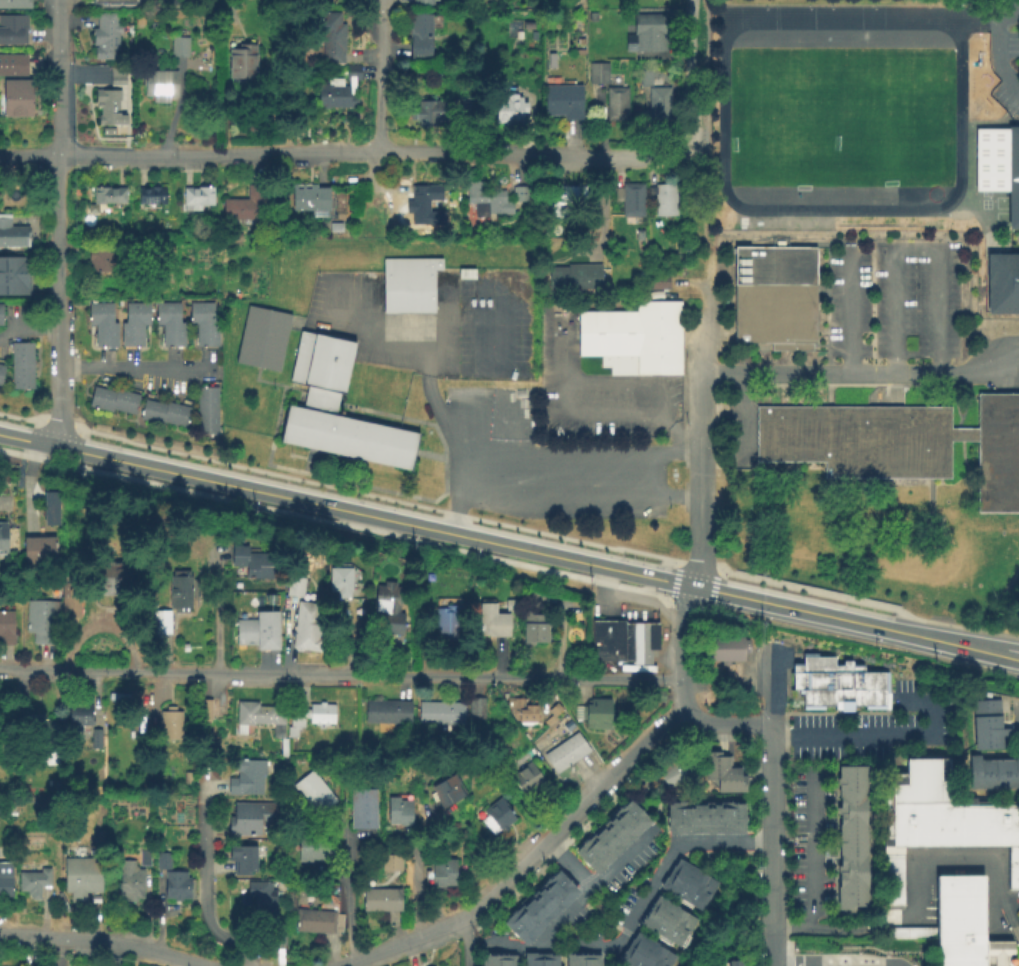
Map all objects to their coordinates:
building: (114, 1)
building: (422, 2)
road: (718, 3)
building: (15, 4)
road: (993, 15)
building: (13, 30)
building: (648, 34)
building: (106, 36)
building: (420, 37)
building: (332, 38)
road: (998, 44)
building: (179, 48)
building: (242, 63)
building: (13, 65)
road: (690, 71)
building: (459, 74)
building: (597, 74)
building: (117, 77)
road: (380, 77)
building: (644, 79)
building: (160, 86)
road: (707, 86)
track: (723, 87)
building: (339, 91)
building: (17, 99)
building: (563, 102)
building: (467, 104)
building: (658, 104)
building: (616, 105)
building: (109, 109)
building: (509, 110)
building: (424, 115)
park: (842, 117)
building: (108, 133)
road: (302, 155)
road: (646, 156)
building: (999, 167)
park: (985, 190)
park: (933, 192)
road: (380, 195)
building: (523, 195)
building: (108, 197)
building: (152, 197)
building: (198, 199)
building: (423, 199)
building: (567, 199)
building: (310, 200)
building: (631, 201)
building: (665, 201)
park: (1001, 201)
building: (487, 203)
park: (985, 203)
building: (245, 206)
road: (699, 208)
road: (601, 210)
park: (1001, 217)
road: (58, 224)
building: (335, 230)
building: (12, 234)
building: (639, 237)
road: (913, 249)
building: (103, 261)
building: (14, 277)
building: (574, 279)
building: (660, 283)
building: (1001, 285)
building: (409, 286)
parking lot: (893, 297)
building: (776, 298)
road: (846, 311)
building: (0, 316)
building: (170, 326)
building: (203, 326)
building: (102, 327)
building: (134, 327)
building: (631, 338)
building: (263, 340)
building: (21, 368)
road: (136, 369)
building: (1, 374)
road: (863, 374)
road: (653, 385)
parking lot: (598, 390)
building: (320, 400)
building: (113, 402)
building: (206, 413)
road: (564, 413)
building: (165, 415)
road: (701, 433)
building: (898, 444)
road: (454, 453)
road: (578, 454)
road: (29, 478)
road: (578, 504)
road: (3, 505)
building: (50, 507)
road: (346, 511)
building: (3, 539)
street lamp: (411, 544)
building: (39, 551)
street lamp: (474, 558)
building: (254, 561)
building: (109, 576)
building: (339, 580)
building: (295, 584)
building: (179, 588)
building: (70, 596)
building: (510, 602)
building: (387, 607)
road: (818, 614)
building: (42, 619)
building: (491, 620)
building: (164, 621)
road: (217, 623)
building: (446, 623)
building: (6, 625)
building: (309, 625)
road: (767, 625)
building: (535, 626)
building: (257, 629)
building: (624, 639)
road: (981, 643)
road: (683, 647)
building: (714, 650)
building: (735, 650)
road: (981, 651)
road: (340, 675)
road: (753, 676)
building: (837, 683)
road: (772, 685)
road: (579, 689)
building: (659, 694)
building: (206, 707)
building: (520, 707)
building: (387, 710)
building: (5, 711)
building: (452, 711)
building: (594, 711)
parking lot: (1014, 712)
building: (74, 714)
building: (309, 715)
building: (260, 718)
building: (170, 723)
road: (726, 724)
road: (1018, 725)
building: (989, 727)
building: (34, 728)
road: (884, 736)
road: (648, 744)
building: (690, 747)
building: (565, 750)
building: (713, 763)
building: (675, 772)
building: (246, 775)
building: (993, 775)
building: (525, 777)
building: (190, 778)
building: (731, 779)
building: (447, 789)
building: (313, 791)
building: (362, 806)
building: (398, 810)
building: (632, 813)
building: (496, 814)
building: (252, 815)
building: (675, 816)
building: (690, 816)
building: (706, 816)
building: (722, 816)
building: (737, 816)
building: (939, 823)
building: (621, 824)
building: (462, 832)
building: (610, 835)
road: (353, 837)
road: (405, 839)
building: (851, 840)
building: (599, 845)
road: (772, 845)
building: (314, 849)
parking lot: (812, 850)
road: (538, 851)
road: (809, 854)
building: (144, 856)
building: (587, 856)
building: (240, 857)
building: (163, 858)
building: (390, 861)
road: (567, 865)
road: (941, 865)
building: (442, 872)
road: (657, 872)
road: (328, 873)
building: (694, 874)
building: (81, 875)
road: (415, 875)
building: (5, 877)
building: (129, 879)
road: (206, 879)
building: (33, 880)
building: (560, 882)
building: (175, 883)
building: (688, 883)
road: (347, 885)
building: (549, 893)
building: (683, 893)
building: (261, 895)
building: (381, 898)
building: (539, 903)
road: (573, 908)
building: (672, 910)
building: (528, 915)
road: (601, 916)
building: (313, 919)
building: (667, 920)
building: (518, 925)
building: (959, 927)
road: (1016, 928)
building: (661, 930)
road: (826, 933)
building: (277, 934)
road: (106, 941)
road: (403, 945)
road: (466, 945)
building: (651, 946)
road: (112, 954)
building: (643, 954)
building: (582, 958)
building: (485, 959)
building: (496, 959)
building: (507, 959)
building: (528, 959)
building: (540, 959)
building: (551, 959)
building: (570, 959)
building: (593, 959)
building: (631, 959)
building: (737, 962)
road: (355, 963)

